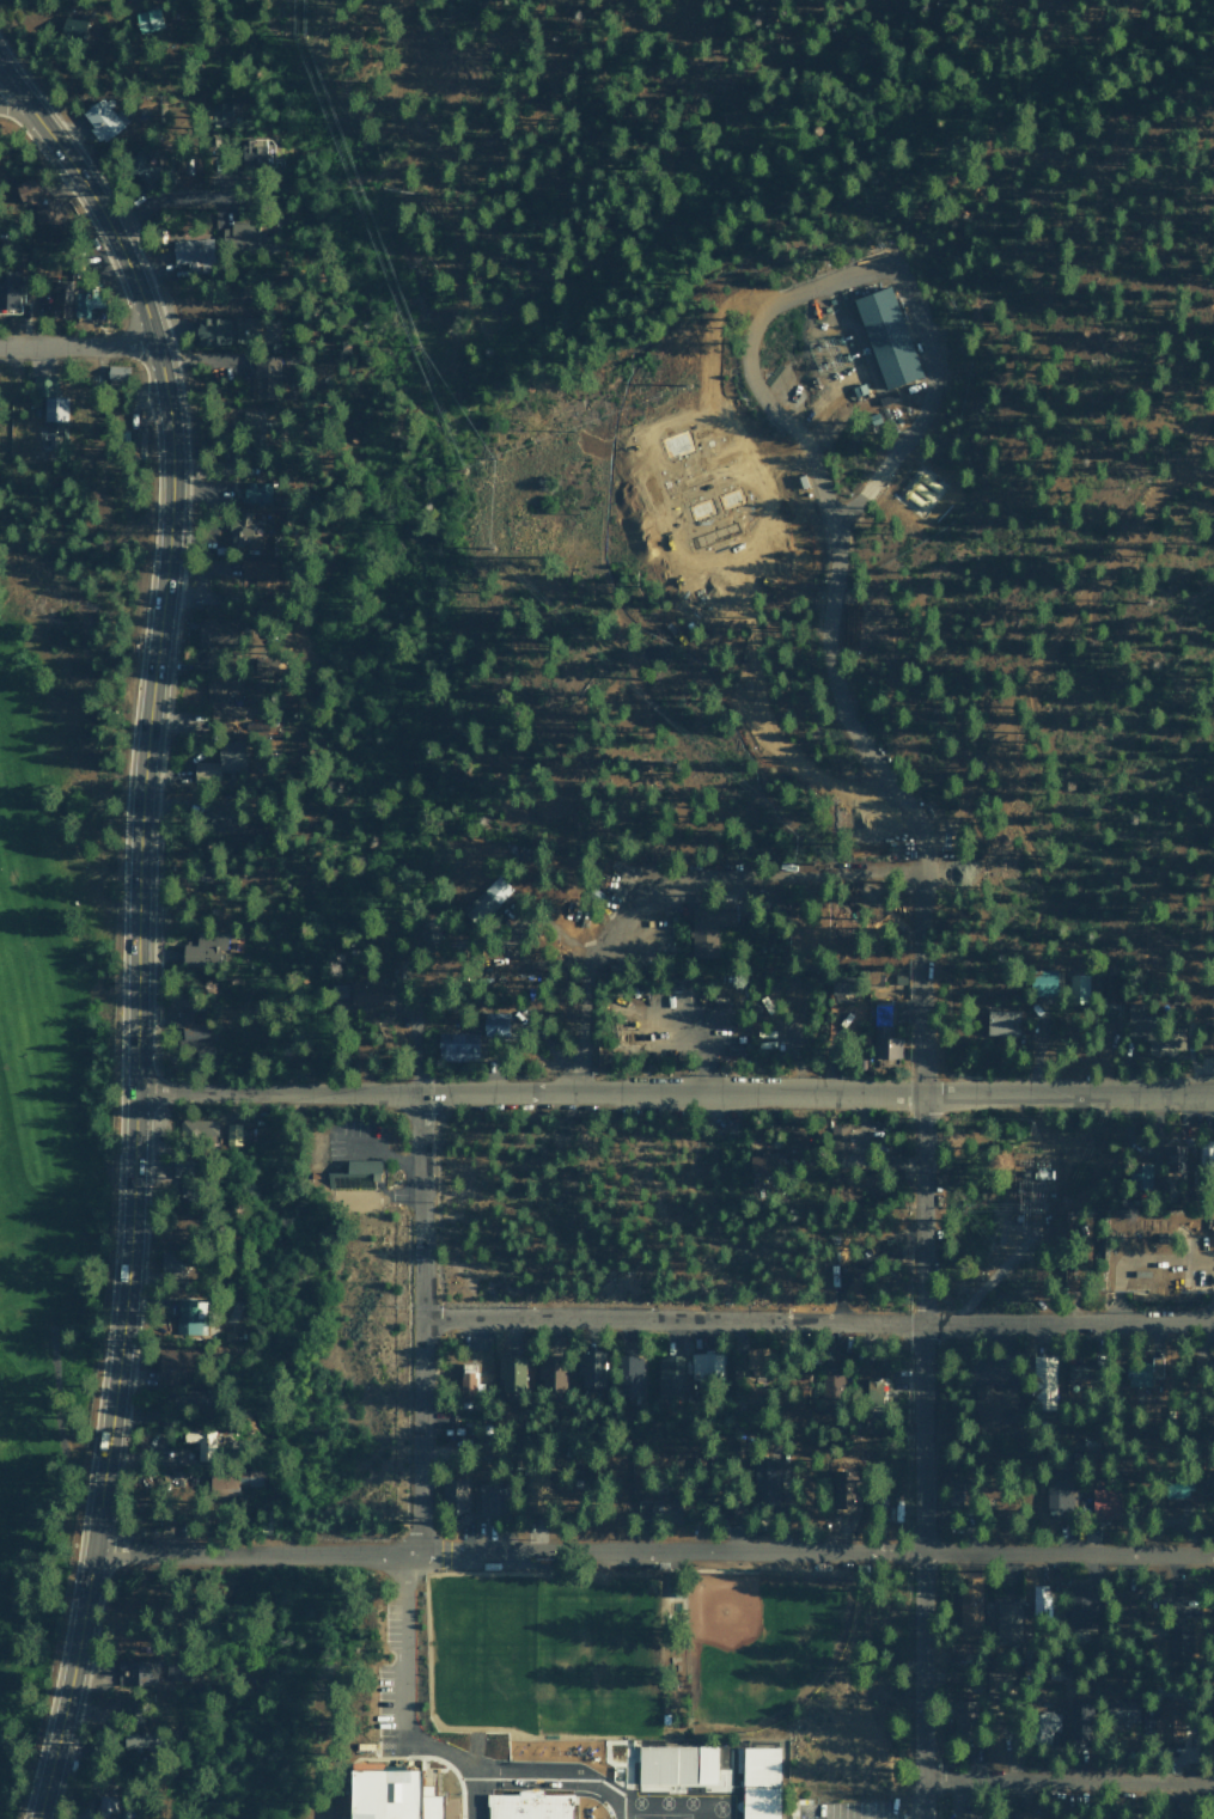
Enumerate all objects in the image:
building: (147, 19)
building: (71, 24)
road: (11, 84)
road: (11, 98)
building: (216, 114)
building: (102, 118)
building: (257, 151)
building: (187, 165)
building: (140, 169)
building: (37, 201)
road: (181, 212)
building: (246, 232)
building: (191, 252)
building: (8, 288)
building: (61, 298)
building: (85, 301)
building: (215, 330)
building: (885, 336)
road: (77, 346)
building: (116, 372)
building: (268, 376)
building: (49, 402)
power substation: (836, 409)
building: (251, 423)
building: (136, 440)
building: (255, 492)
building: (242, 531)
road: (832, 538)
building: (256, 572)
road: (1, 584)
road: (1080, 599)
building: (213, 634)
building: (261, 666)
building: (222, 697)
building: (220, 816)
road: (938, 829)
road: (996, 834)
building: (492, 895)
building: (708, 924)
building: (426, 939)
road: (136, 942)
building: (203, 950)
building: (1042, 982)
building: (841, 985)
building: (1078, 987)
building: (1109, 989)
building: (338, 990)
building: (368, 993)
park: (57, 1005)
building: (494, 1023)
building: (1001, 1023)
building: (188, 1025)
building: (1154, 1033)
building: (885, 1044)
building: (457, 1046)
road: (673, 1092)
building: (206, 1129)
building: (231, 1134)
building: (838, 1142)
building: (1206, 1155)
building: (1172, 1159)
building: (761, 1171)
building: (347, 1172)
building: (1140, 1174)
building: (362, 1198)
building: (171, 1265)
building: (185, 1318)
road: (815, 1320)
road: (917, 1349)
building: (170, 1363)
building: (706, 1366)
building: (1209, 1368)
building: (590, 1369)
building: (1142, 1372)
building: (510, 1373)
building: (549, 1373)
building: (1078, 1374)
road: (414, 1375)
building: (628, 1375)
building: (670, 1377)
building: (483, 1379)
building: (466, 1382)
building: (1043, 1382)
building: (872, 1393)
building: (993, 1405)
building: (195, 1436)
building: (160, 1449)
road: (59, 1477)
building: (228, 1482)
building: (764, 1483)
building: (846, 1488)
building: (1175, 1488)
building: (1059, 1489)
building: (532, 1494)
building: (453, 1496)
building: (490, 1501)
building: (1104, 1503)
building: (664, 1509)
road: (805, 1550)
road: (245, 1551)
building: (1078, 1605)
building: (1123, 1609)
building: (969, 1617)
building: (1007, 1622)
building: (1177, 1641)
building: (136, 1672)
building: (132, 1709)
building: (502, 1709)
building: (1121, 1709)
building: (962, 1716)
building: (1213, 1716)
building: (1076, 1719)
building: (1167, 1722)
building: (1043, 1726)
building: (132, 1739)
building: (993, 1745)
building: (661, 1762)
road: (1064, 1780)
building: (765, 1782)
building: (108, 1784)
building: (402, 1791)
building: (529, 1805)
building: (106, 1806)
building: (1024, 1814)
building: (1189, 1814)

